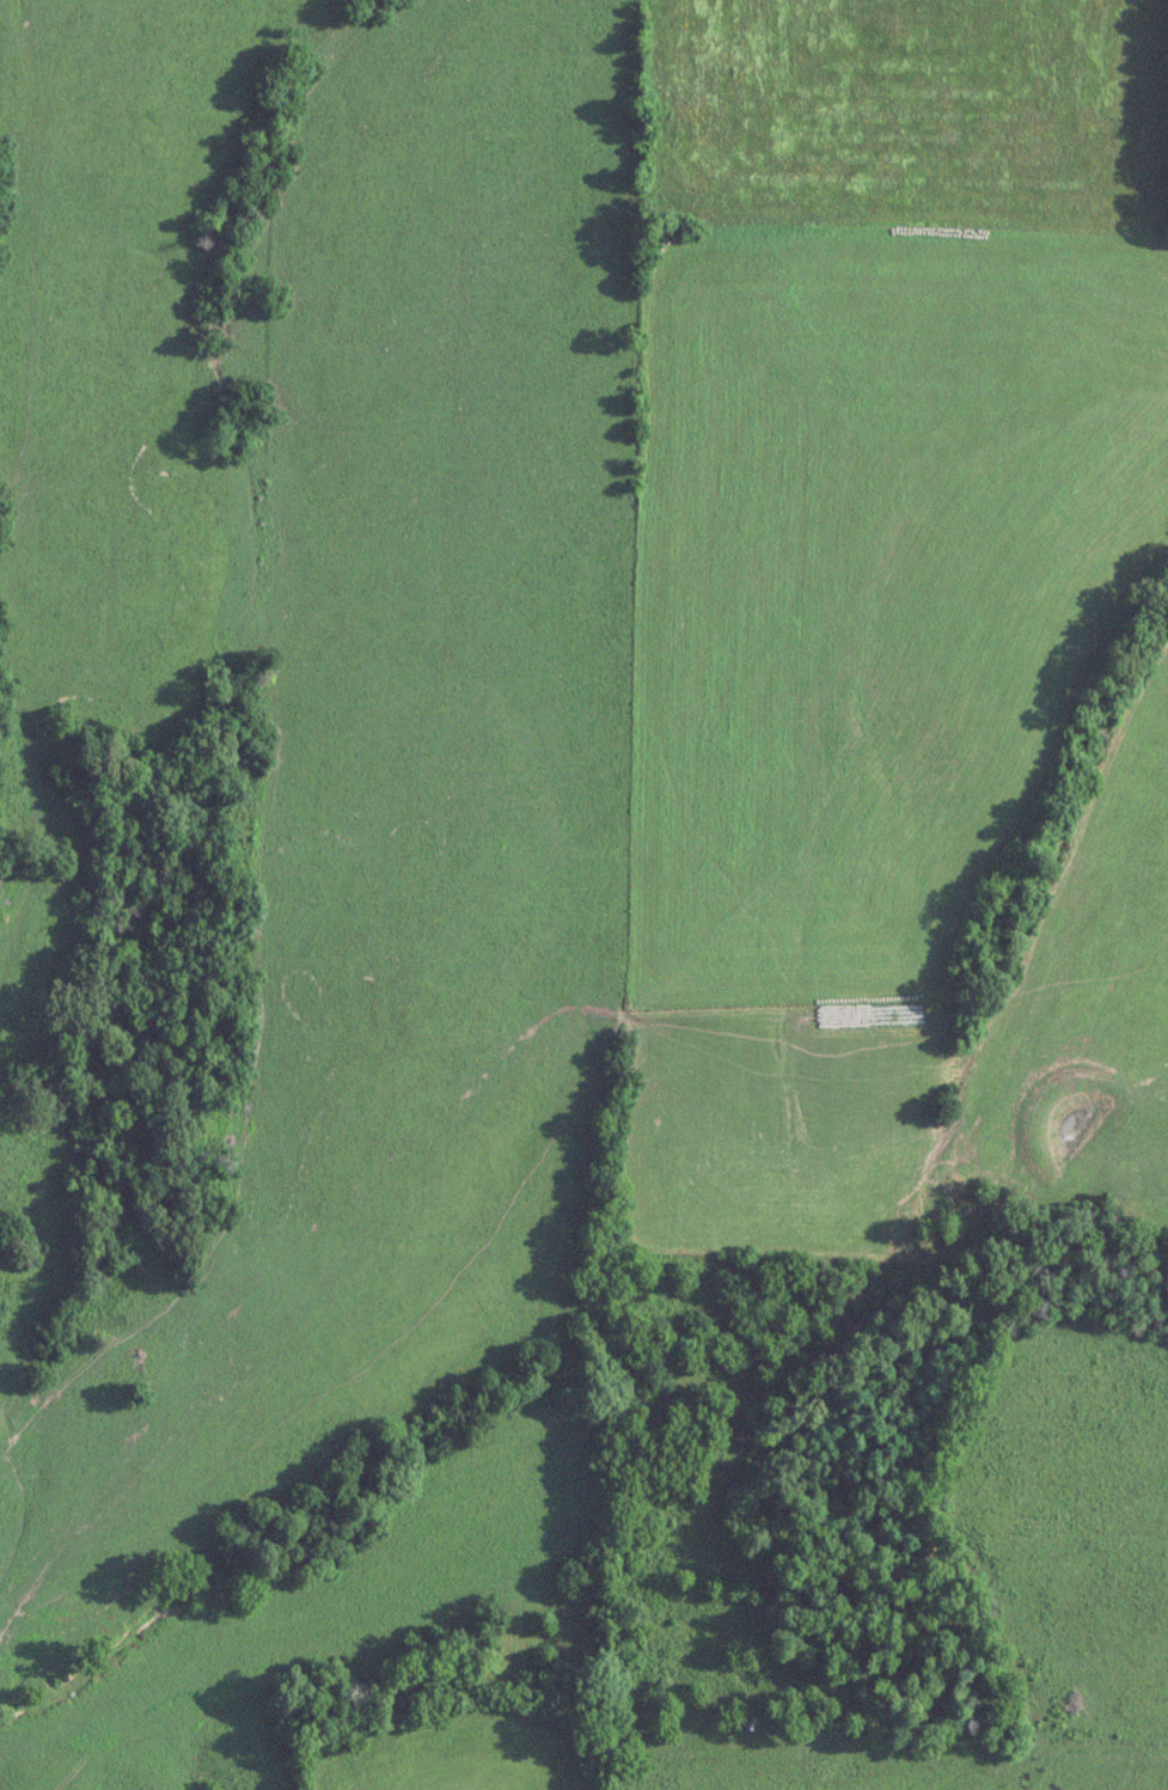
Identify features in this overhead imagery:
crop: (905, 112)
crop: (872, 580)

